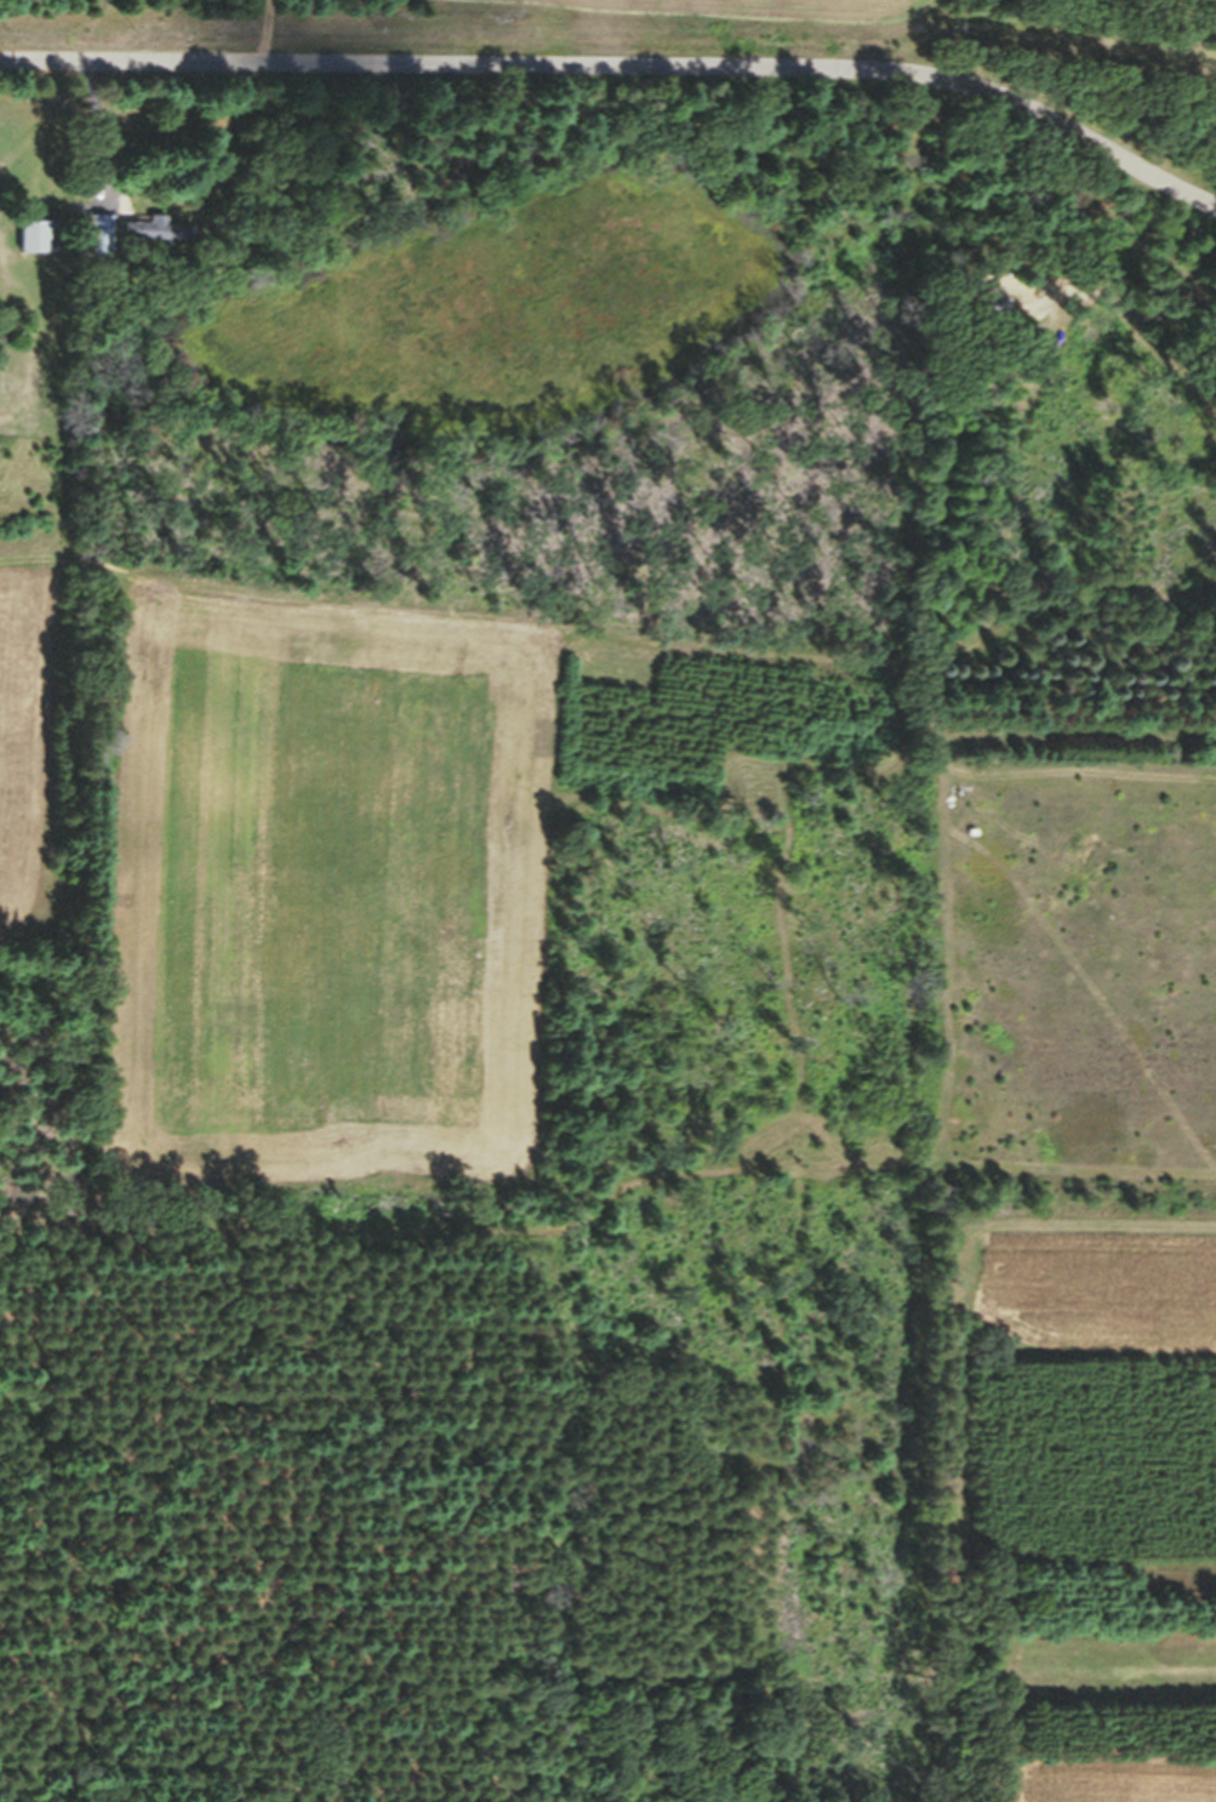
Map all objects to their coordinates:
road: (617, 81)
building: (154, 236)
building: (104, 244)
building: (40, 246)
building: (994, 314)

